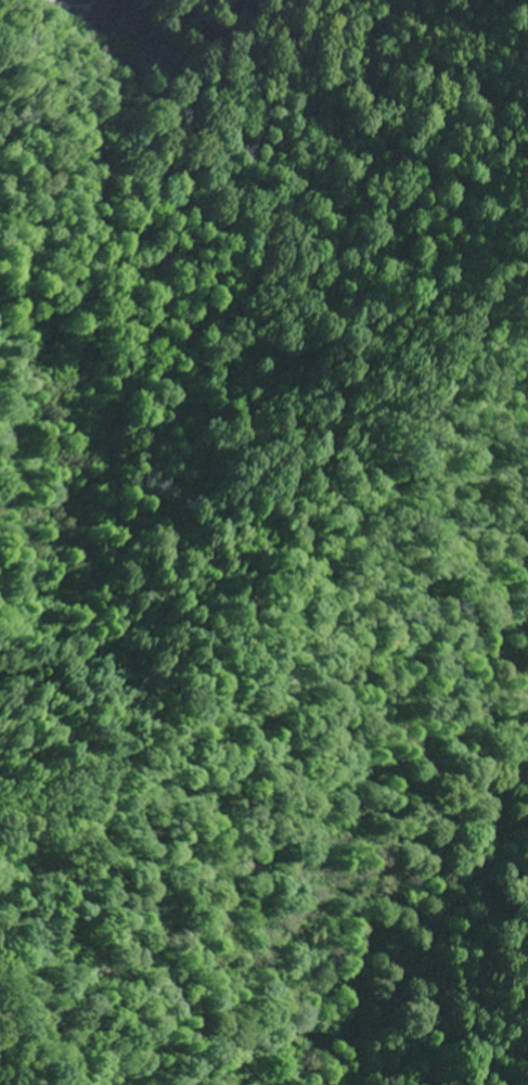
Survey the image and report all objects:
building: (51, 1)
building: (90, 9)

